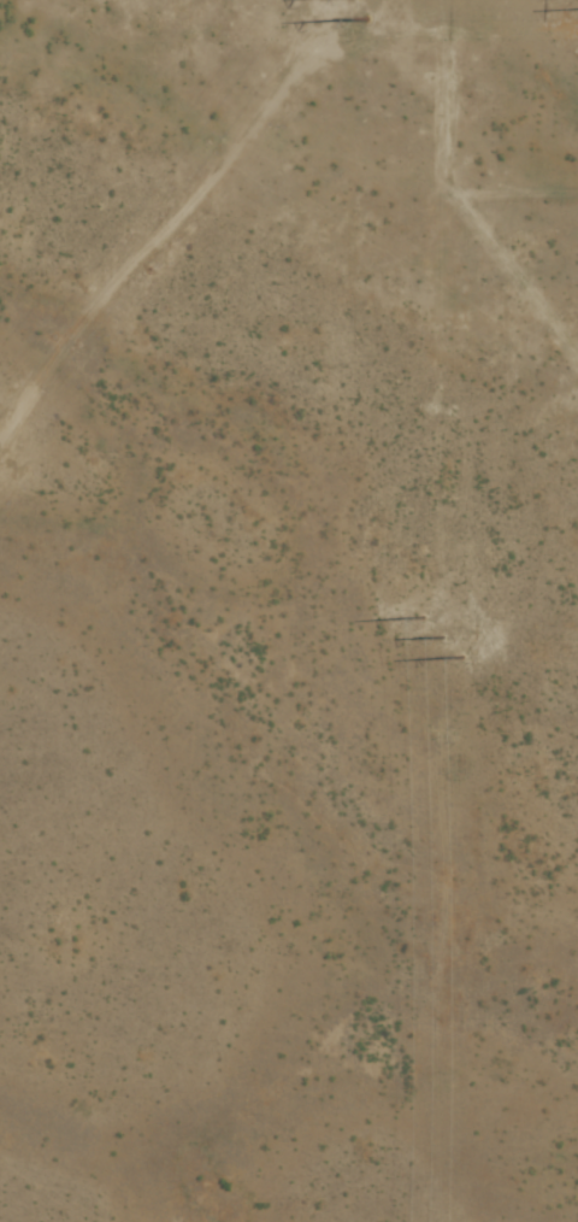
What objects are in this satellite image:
power tower: (442, 636)

